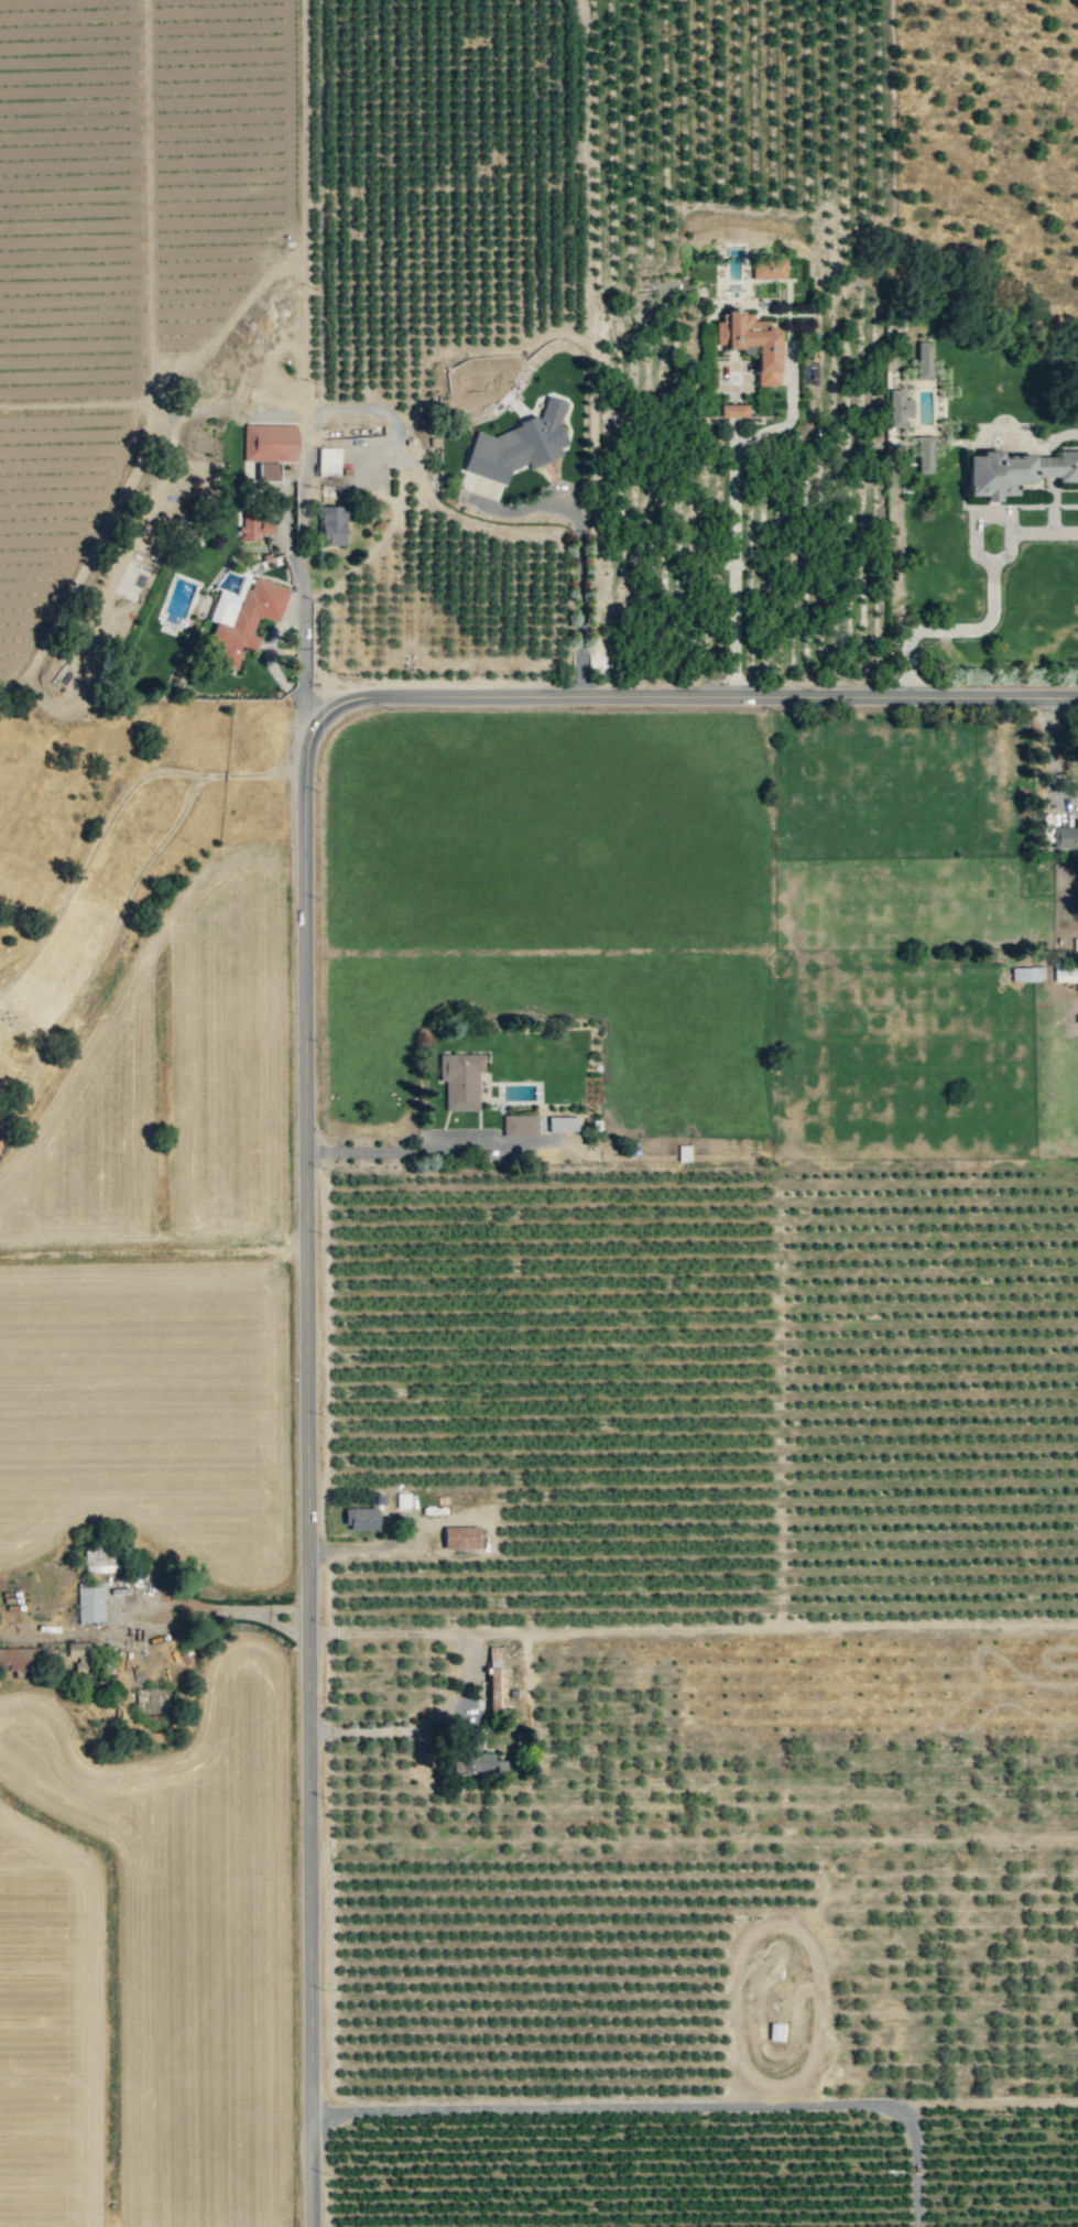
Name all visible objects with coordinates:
building: (769, 269)
building: (752, 343)
building: (924, 360)
building: (897, 408)
building: (734, 410)
building: (519, 444)
building: (270, 447)
building: (925, 454)
building: (329, 460)
building: (1015, 471)
road: (736, 508)
building: (255, 524)
building: (333, 524)
road: (579, 594)
road: (990, 607)
building: (242, 618)
road: (303, 640)
road: (1050, 748)
building: (1066, 971)
building: (1027, 974)
building: (460, 1079)
road: (304, 1086)
building: (563, 1123)
building: (520, 1125)
road: (431, 1148)
building: (378, 1499)
building: (361, 1518)
building: (460, 1536)
building: (99, 1555)
building: (90, 1601)
road: (184, 1605)
road: (258, 1615)
road: (417, 1631)
building: (81, 1655)
building: (18, 1659)
building: (496, 1677)
road: (390, 1731)
building: (479, 1758)
road: (666, 2104)

